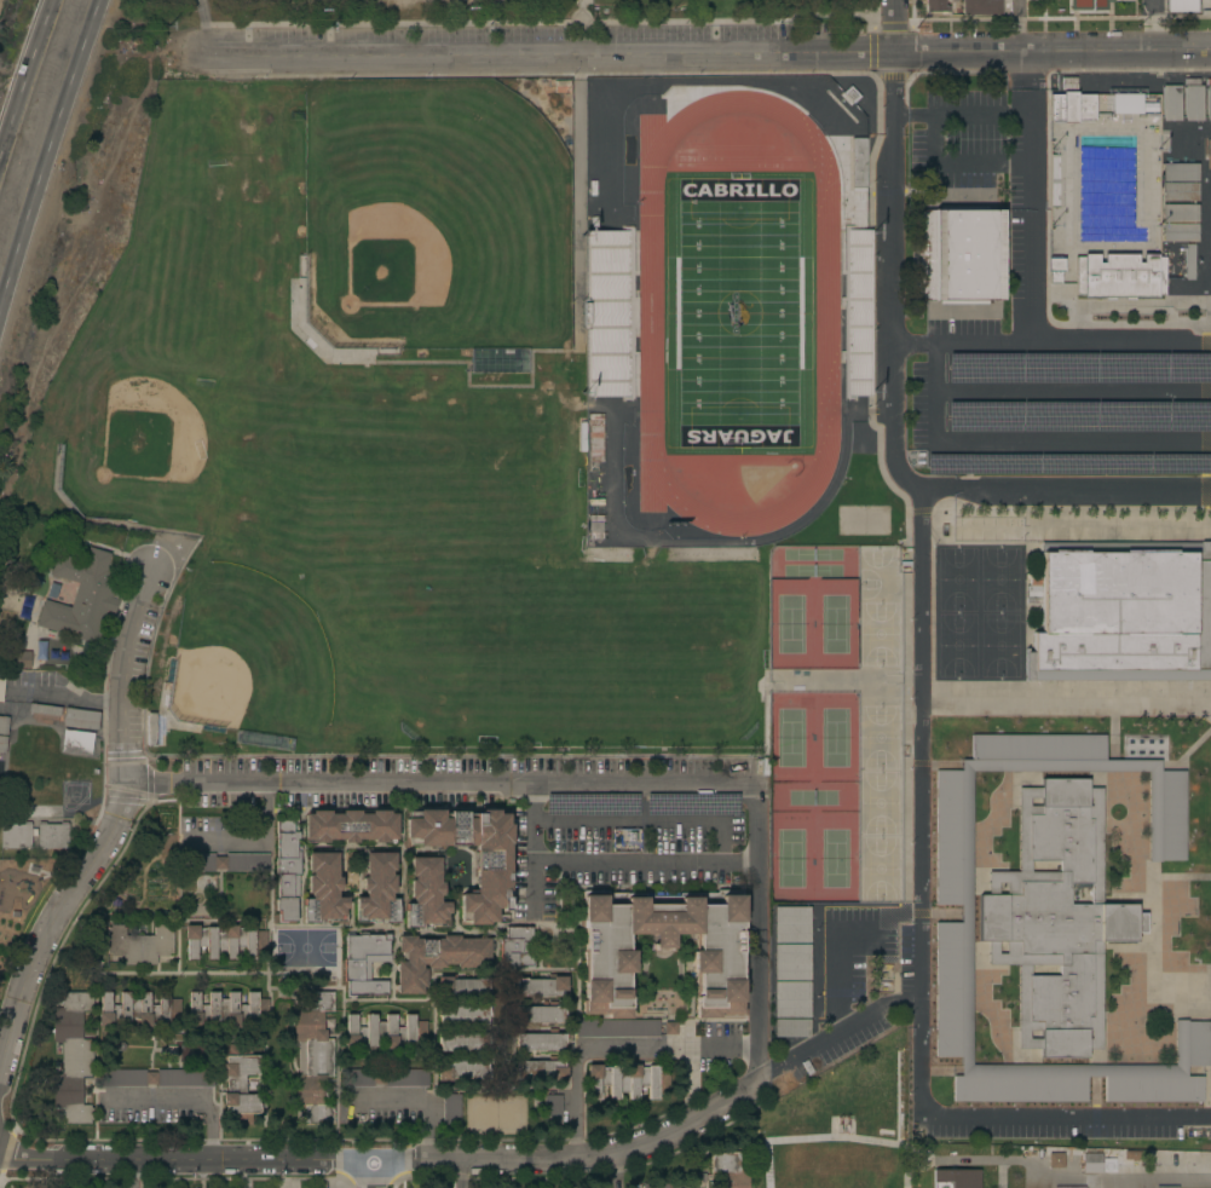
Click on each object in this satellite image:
park: (641, 5)
building: (1088, 5)
building: (1178, 5)
building: (935, 6)
building: (982, 7)
park: (526, 8)
road: (258, 12)
road: (392, 23)
road: (1016, 24)
road: (894, 25)
road: (204, 27)
road: (579, 27)
road: (700, 52)
road: (23, 76)
building: (1169, 102)
building: (1207, 102)
building: (1124, 103)
building: (1190, 103)
building: (1069, 106)
road: (958, 114)
parking lot: (955, 131)
road: (46, 152)
building: (858, 163)
road: (953, 166)
building: (1177, 172)
building: (1176, 190)
road: (1027, 197)
building: (1177, 213)
park: (431, 217)
building: (1177, 231)
building: (958, 255)
building: (1186, 261)
building: (1115, 277)
track: (647, 306)
park: (736, 311)
building: (855, 312)
building: (605, 315)
road: (913, 346)
building: (1079, 369)
road: (1072, 392)
road: (934, 393)
parking lot: (1057, 397)
building: (984, 416)
building: (1059, 416)
building: (1189, 416)
building: (1131, 417)
road: (894, 423)
park: (129, 448)
building: (1038, 465)
building: (1180, 465)
park: (399, 484)
building: (82, 595)
building: (1123, 617)
road: (921, 627)
park: (246, 652)
building: (21, 658)
road: (123, 675)
building: (1, 687)
building: (44, 709)
building: (80, 717)
park: (813, 723)
building: (2, 725)
building: (75, 742)
building: (2, 744)
road: (440, 783)
parking lot: (350, 784)
road: (647, 821)
parking lot: (632, 824)
building: (348, 826)
road: (252, 835)
building: (15, 836)
building: (52, 836)
road: (534, 846)
building: (231, 861)
road: (686, 865)
building: (491, 867)
building: (287, 872)
road: (918, 876)
building: (324, 886)
building: (376, 887)
building: (426, 889)
building: (1078, 895)
building: (659, 899)
building: (965, 913)
building: (1055, 918)
road: (56, 923)
building: (791, 924)
building: (223, 941)
building: (139, 944)
building: (514, 946)
building: (438, 958)
building: (607, 962)
building: (791, 962)
building: (365, 964)
road: (756, 971)
building: (540, 986)
building: (461, 987)
building: (791, 999)
building: (226, 1009)
building: (137, 1010)
building: (462, 1014)
building: (538, 1014)
building: (791, 1027)
building: (616, 1028)
building: (384, 1032)
road: (842, 1032)
building: (462, 1042)
building: (538, 1042)
road: (612, 1048)
building: (71, 1057)
building: (312, 1057)
building: (461, 1069)
building: (540, 1069)
building: (157, 1078)
building: (386, 1078)
building: (627, 1080)
building: (240, 1083)
road: (189, 1097)
road: (415, 1101)
building: (450, 1108)
building: (552, 1109)
road: (999, 1119)
parking lot: (1061, 1130)
road: (582, 1155)
building: (1054, 1159)
road: (186, 1163)
building: (1091, 1163)
building: (731, 1169)
road: (618, 1171)
road: (129, 1175)
road: (457, 1175)
road: (1120, 1175)
road: (373, 1176)
building: (956, 1178)
building: (657, 1186)
building: (1069, 1187)
building: (1166, 1187)

